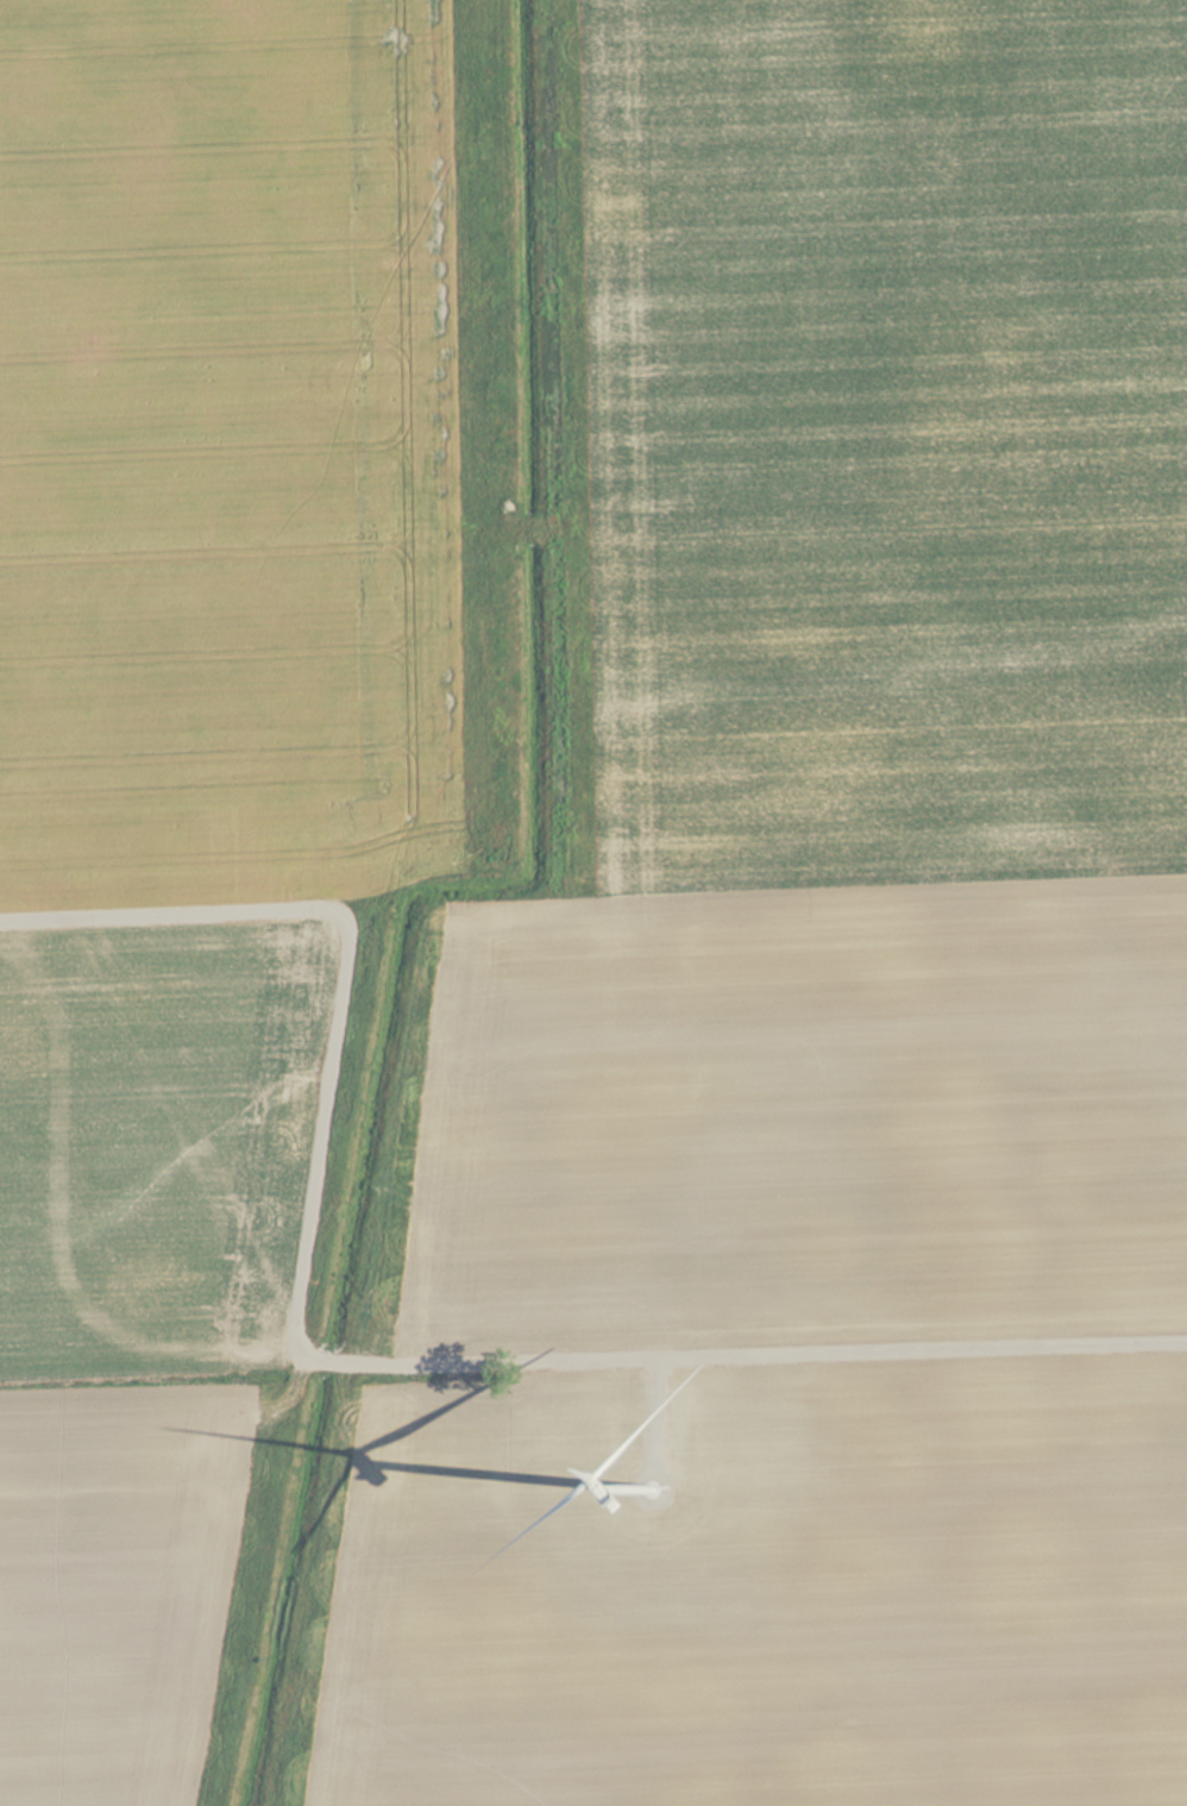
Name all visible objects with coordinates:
wind turbine: (664, 1498)

